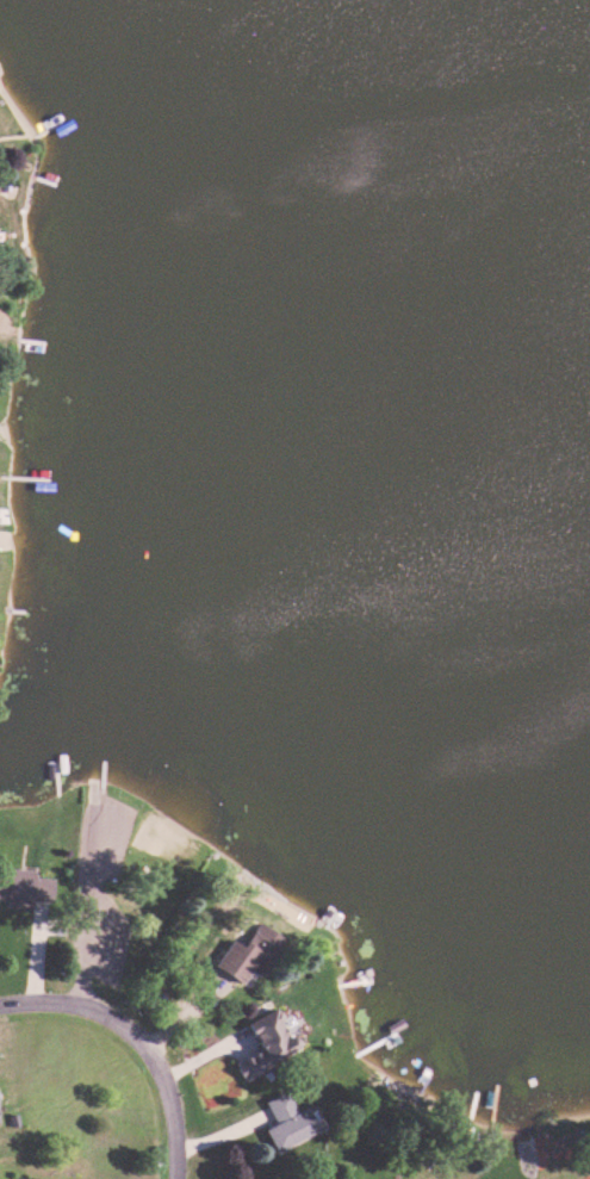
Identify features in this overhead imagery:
pier: (98, 772)
road: (88, 790)
building: (26, 889)
road: (82, 900)
parking lot: (108, 937)
building: (249, 954)
road: (141, 1036)
building: (266, 1043)
building: (286, 1121)

